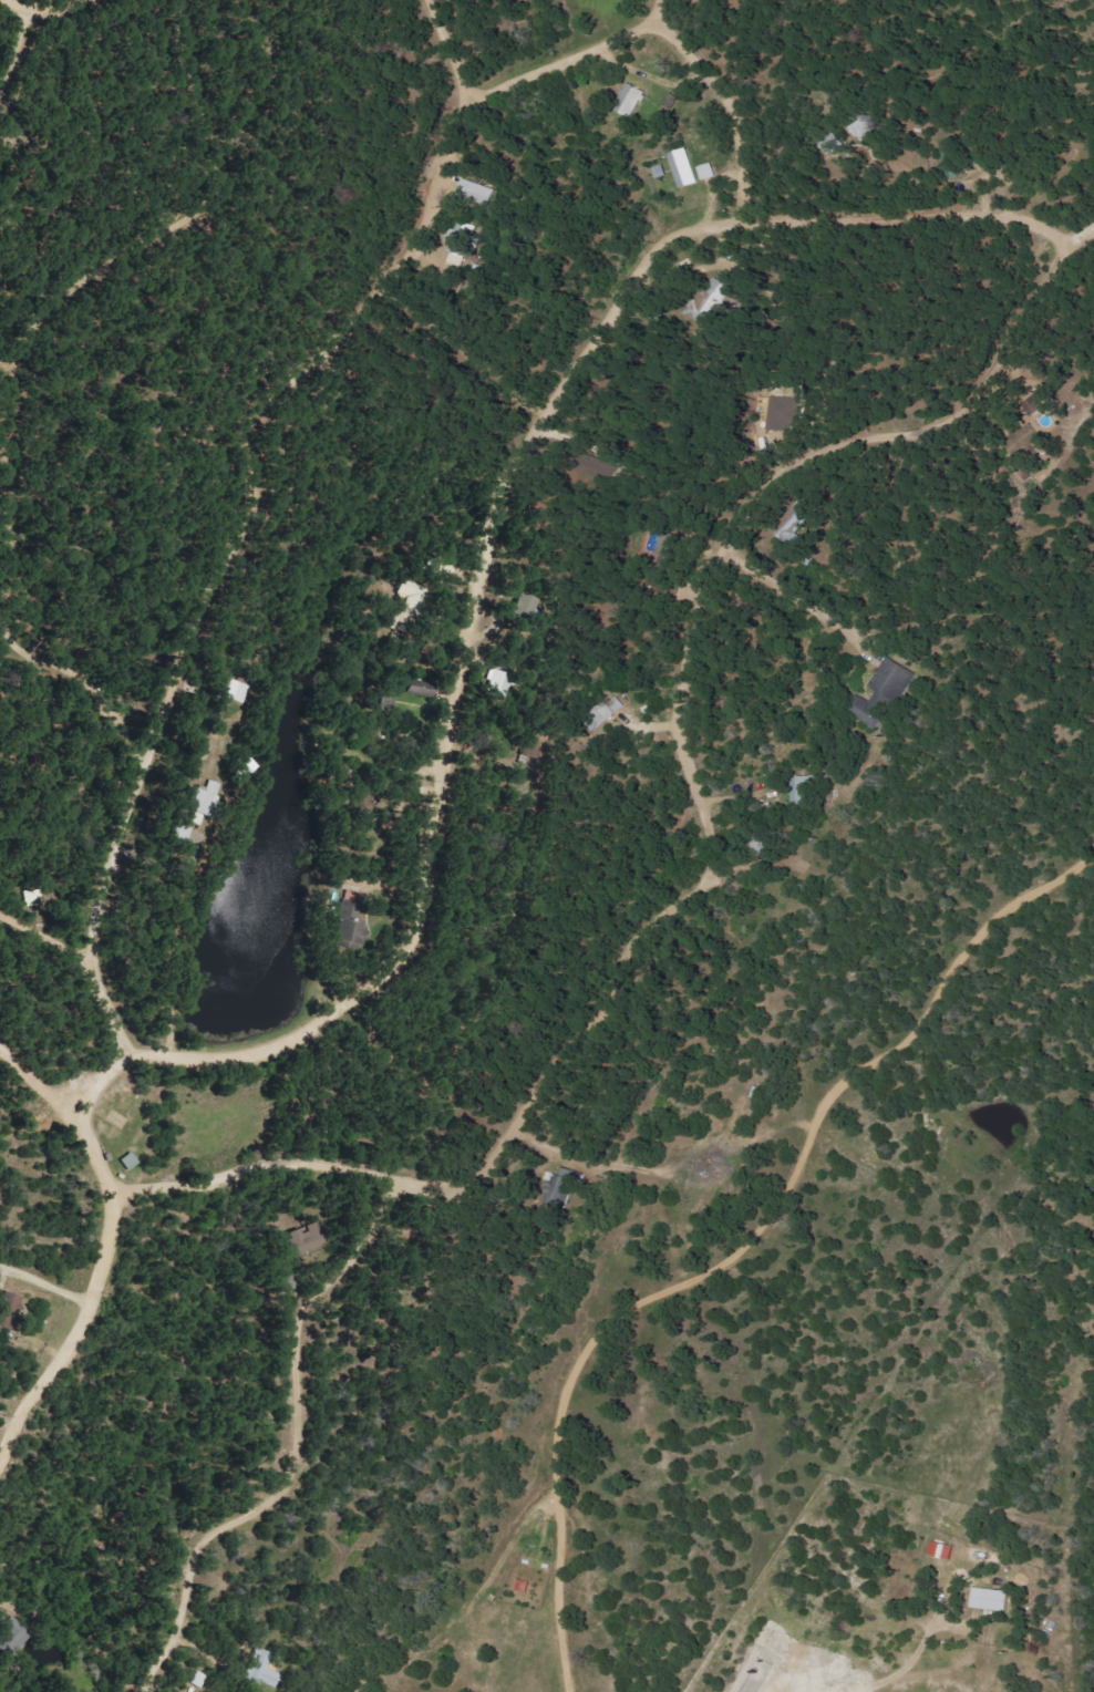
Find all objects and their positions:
road: (59, 2)
road: (19, 38)
road: (448, 42)
road: (567, 58)
road: (727, 99)
building: (631, 100)
building: (685, 169)
building: (709, 173)
building: (475, 193)
building: (458, 248)
road: (16, 341)
road: (33, 349)
road: (13, 482)
road: (494, 526)
road: (234, 541)
road: (798, 588)
road: (685, 677)
building: (498, 683)
building: (237, 690)
building: (881, 693)
building: (609, 711)
building: (204, 799)
building: (35, 898)
road: (49, 920)
building: (349, 926)
road: (35, 1079)
road: (99, 1080)
road: (257, 1160)
building: (311, 1238)
road: (48, 1280)
road: (99, 1289)
road: (299, 1446)
building: (943, 1551)
road: (902, 1587)
building: (993, 1600)
building: (262, 1669)

